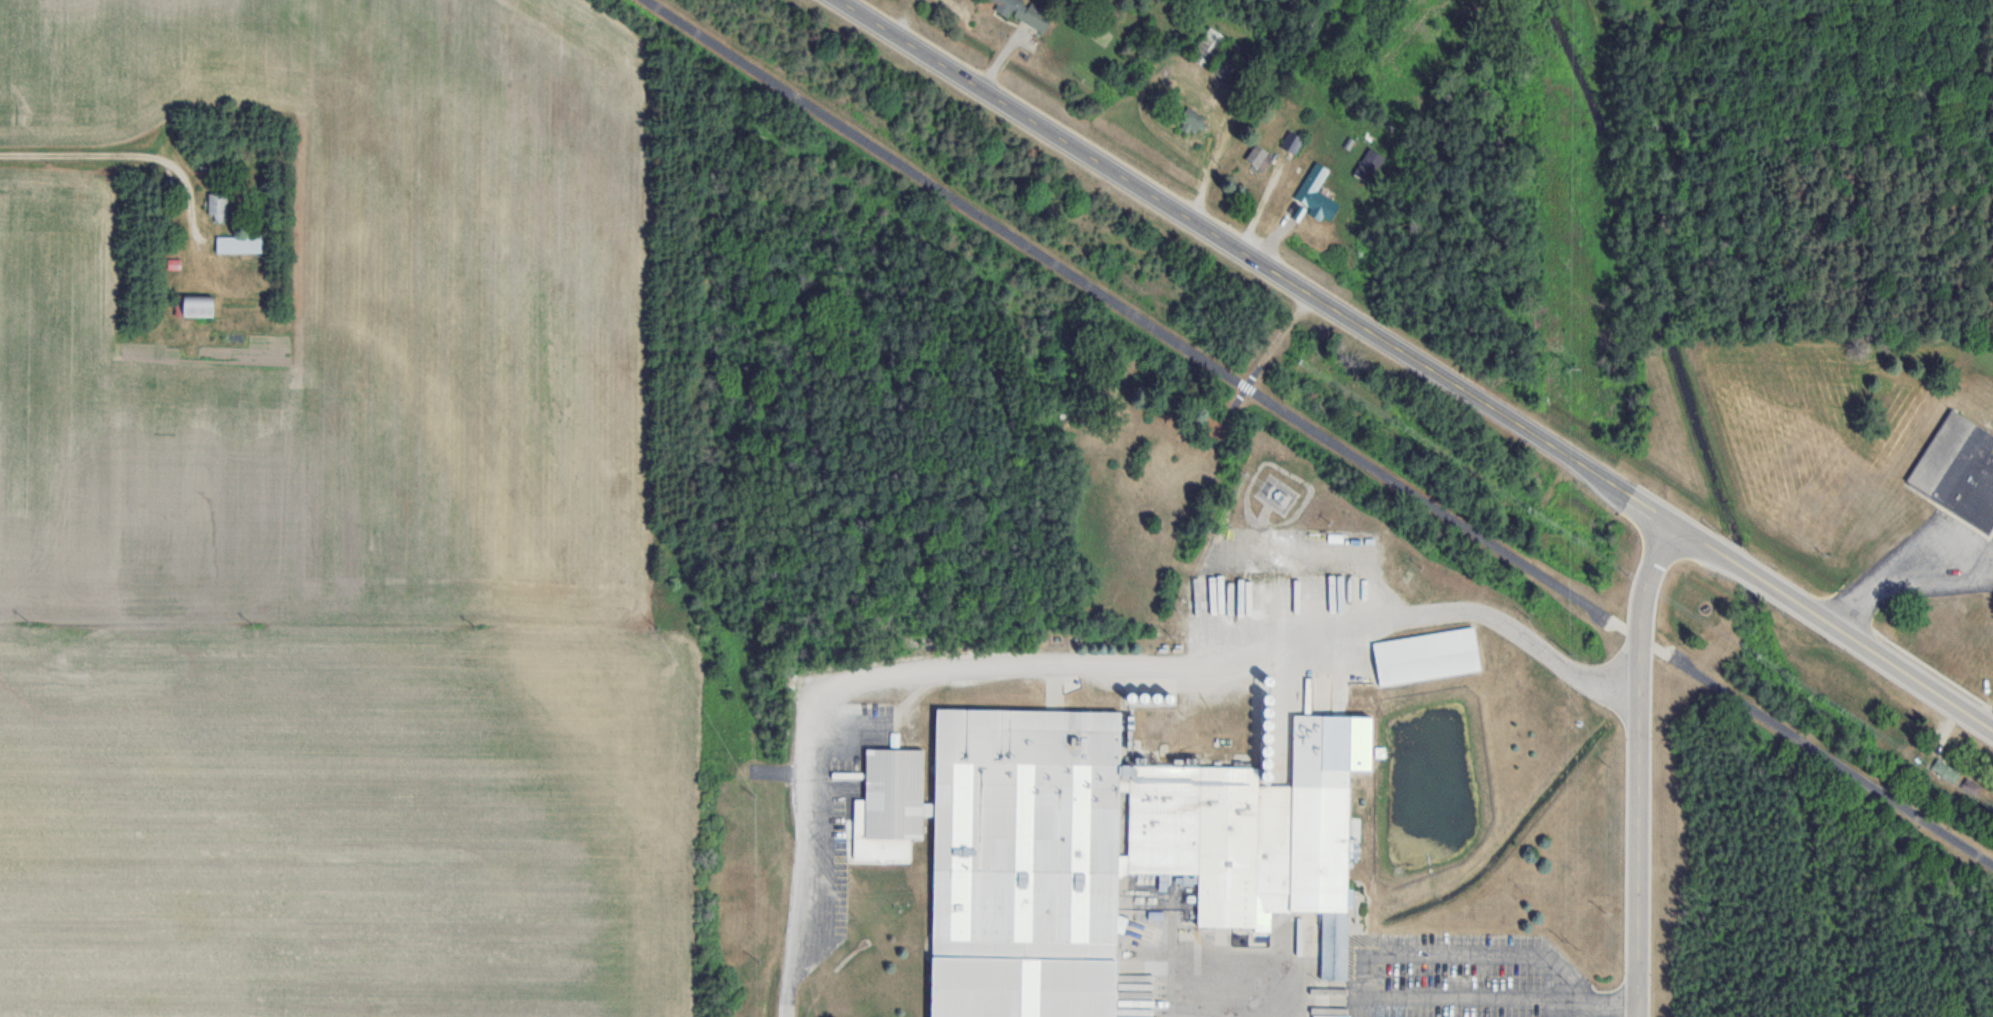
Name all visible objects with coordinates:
building: (1023, 12)
building: (1215, 52)
building: (1191, 119)
road: (134, 157)
building: (1313, 195)
building: (217, 207)
building: (238, 245)
road: (1256, 261)
building: (196, 307)
road: (1320, 432)
building: (1958, 470)
power substation: (1276, 493)
road: (1906, 573)
road: (1833, 625)
road: (1641, 630)
building: (1424, 657)
road: (1076, 662)
building: (1946, 771)
building: (1971, 786)
building: (888, 805)
building: (1111, 853)
road: (1642, 881)
road: (1601, 1003)

